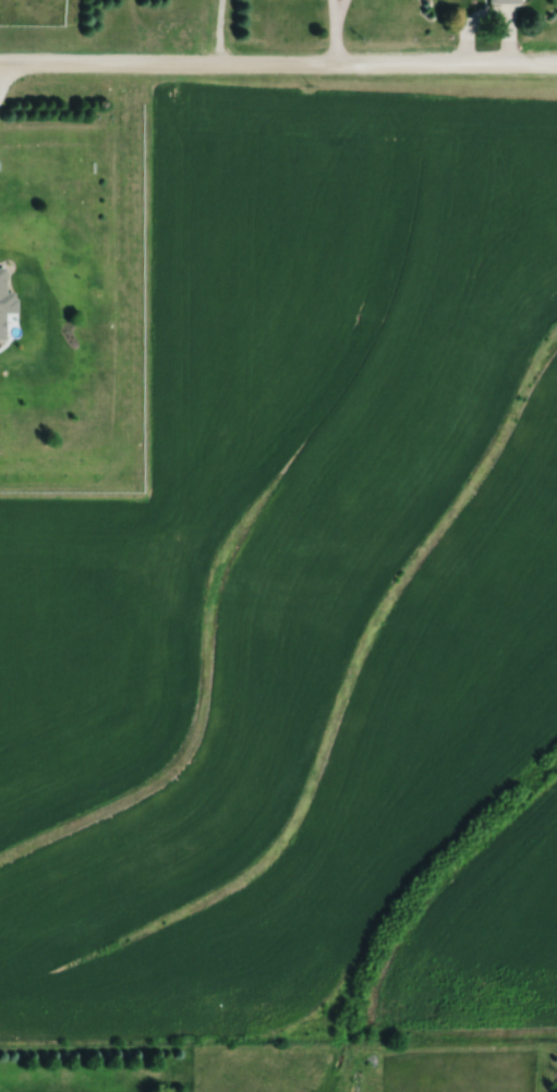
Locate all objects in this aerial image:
building: (505, 1)
road: (336, 9)
road: (332, 32)
road: (278, 63)
road: (4, 74)
building: (2, 291)

